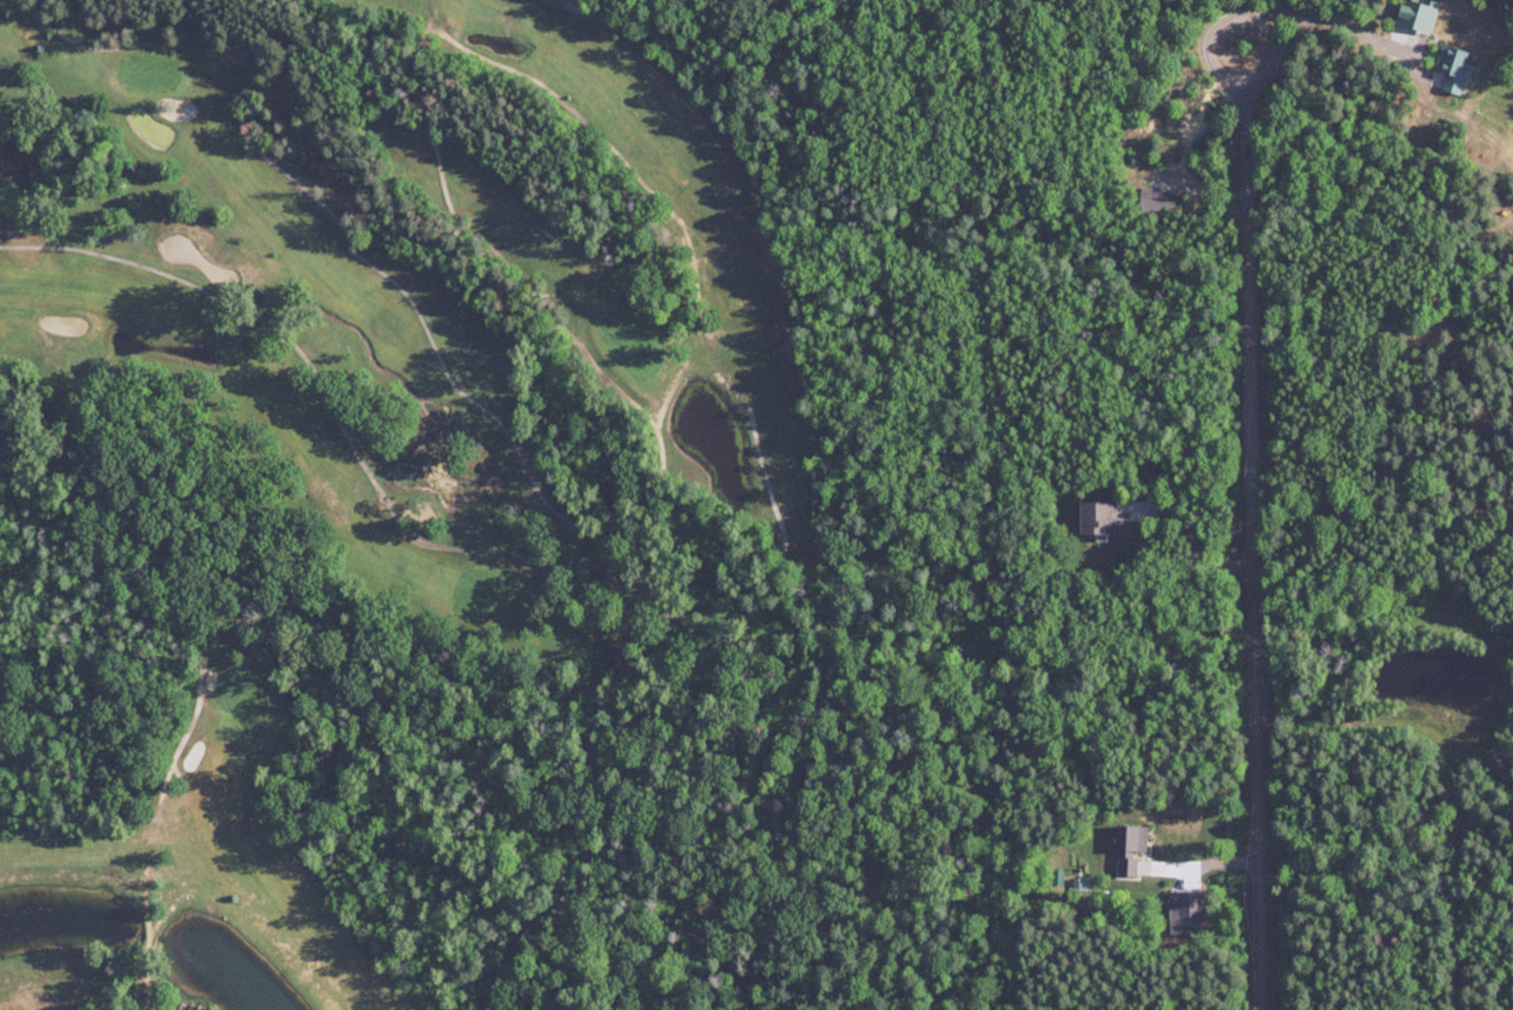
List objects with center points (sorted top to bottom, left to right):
road: (1236, 13)
building: (1417, 14)
building: (1454, 67)
park: (148, 72)
park: (632, 342)
park: (390, 435)
building: (1098, 517)
road: (1247, 563)
park: (479, 592)
park: (241, 691)
building: (1131, 848)
road: (1196, 859)

